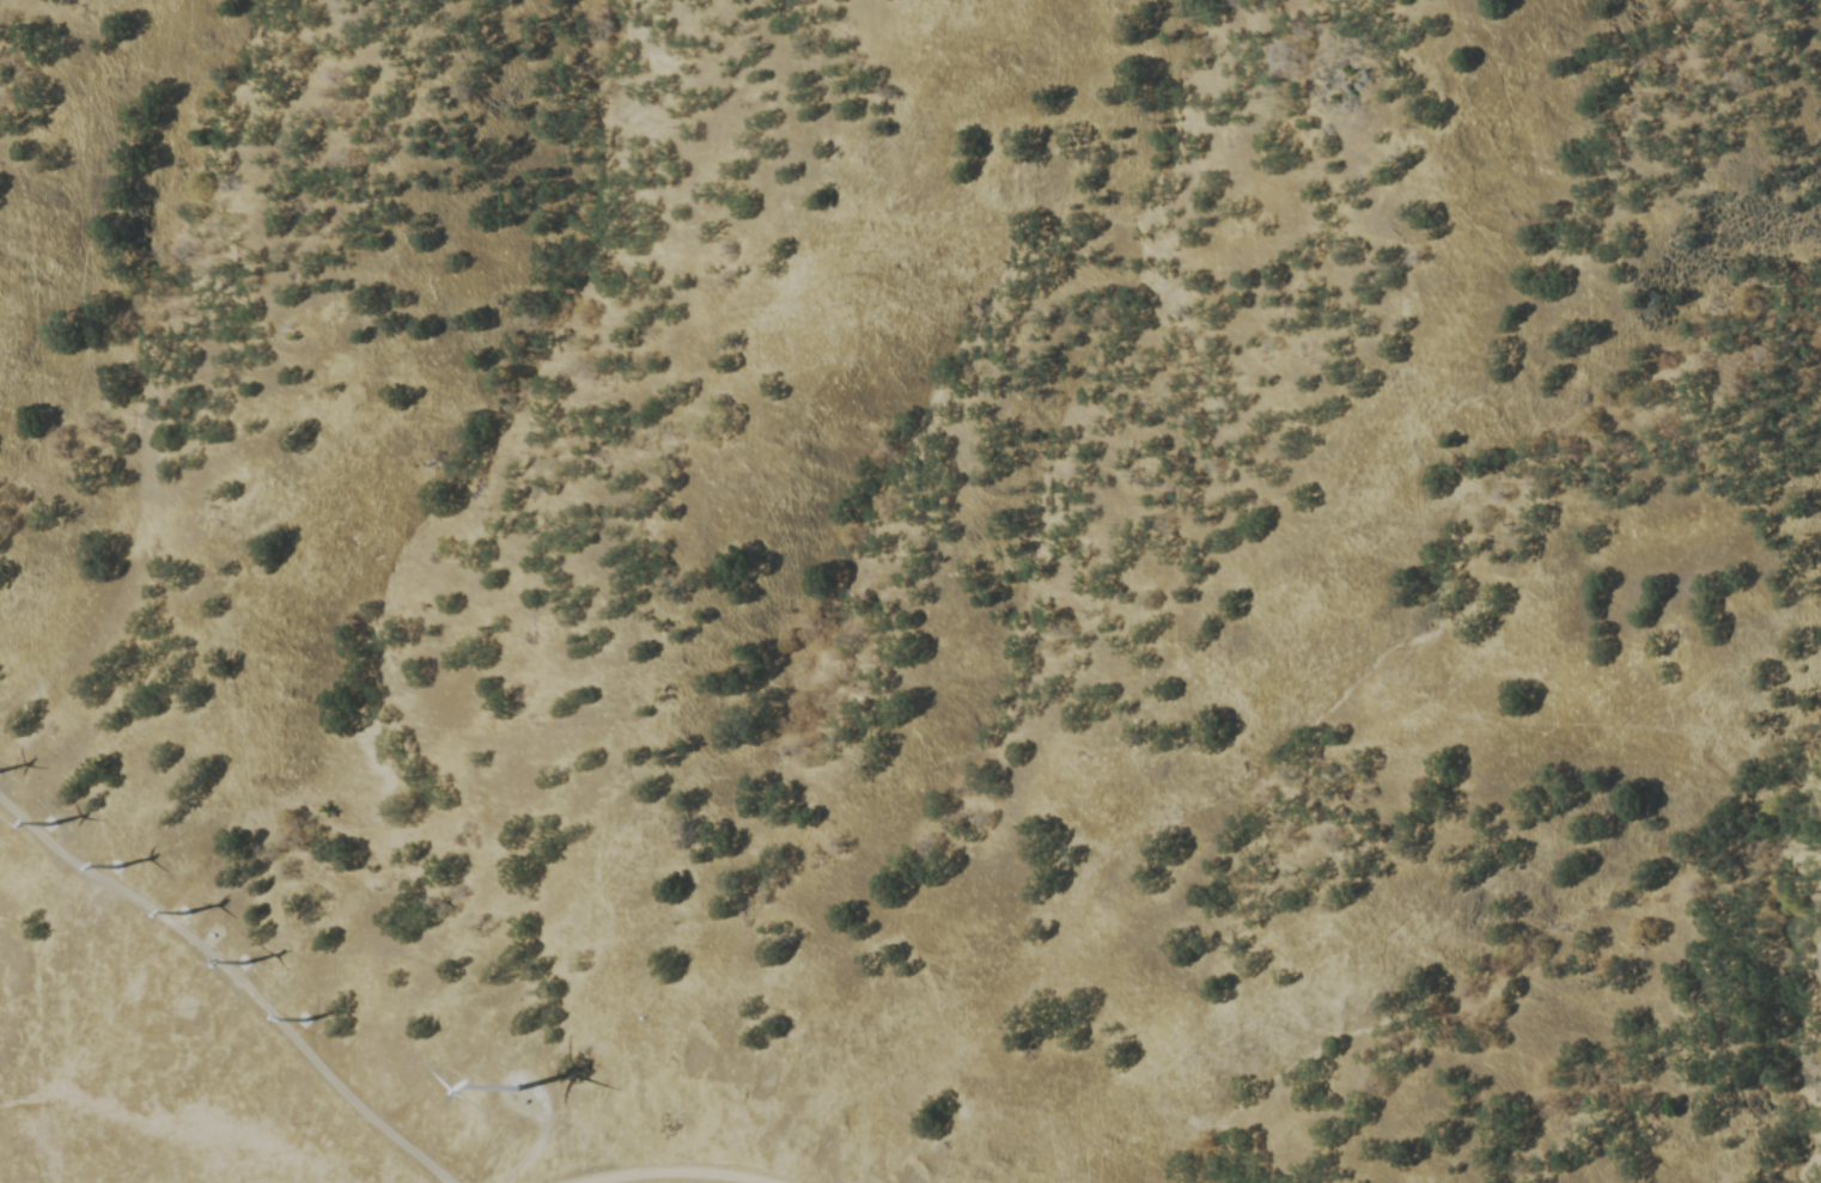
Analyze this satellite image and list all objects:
wind turbine: (60, 821)
wind turbine: (117, 861)
wind turbine: (201, 907)
wind turbine: (261, 959)
road: (233, 978)
wind turbine: (321, 1019)
road: (510, 1072)
wind turbine: (522, 1084)
road: (534, 1155)
road: (681, 1170)
road: (446, 1182)

